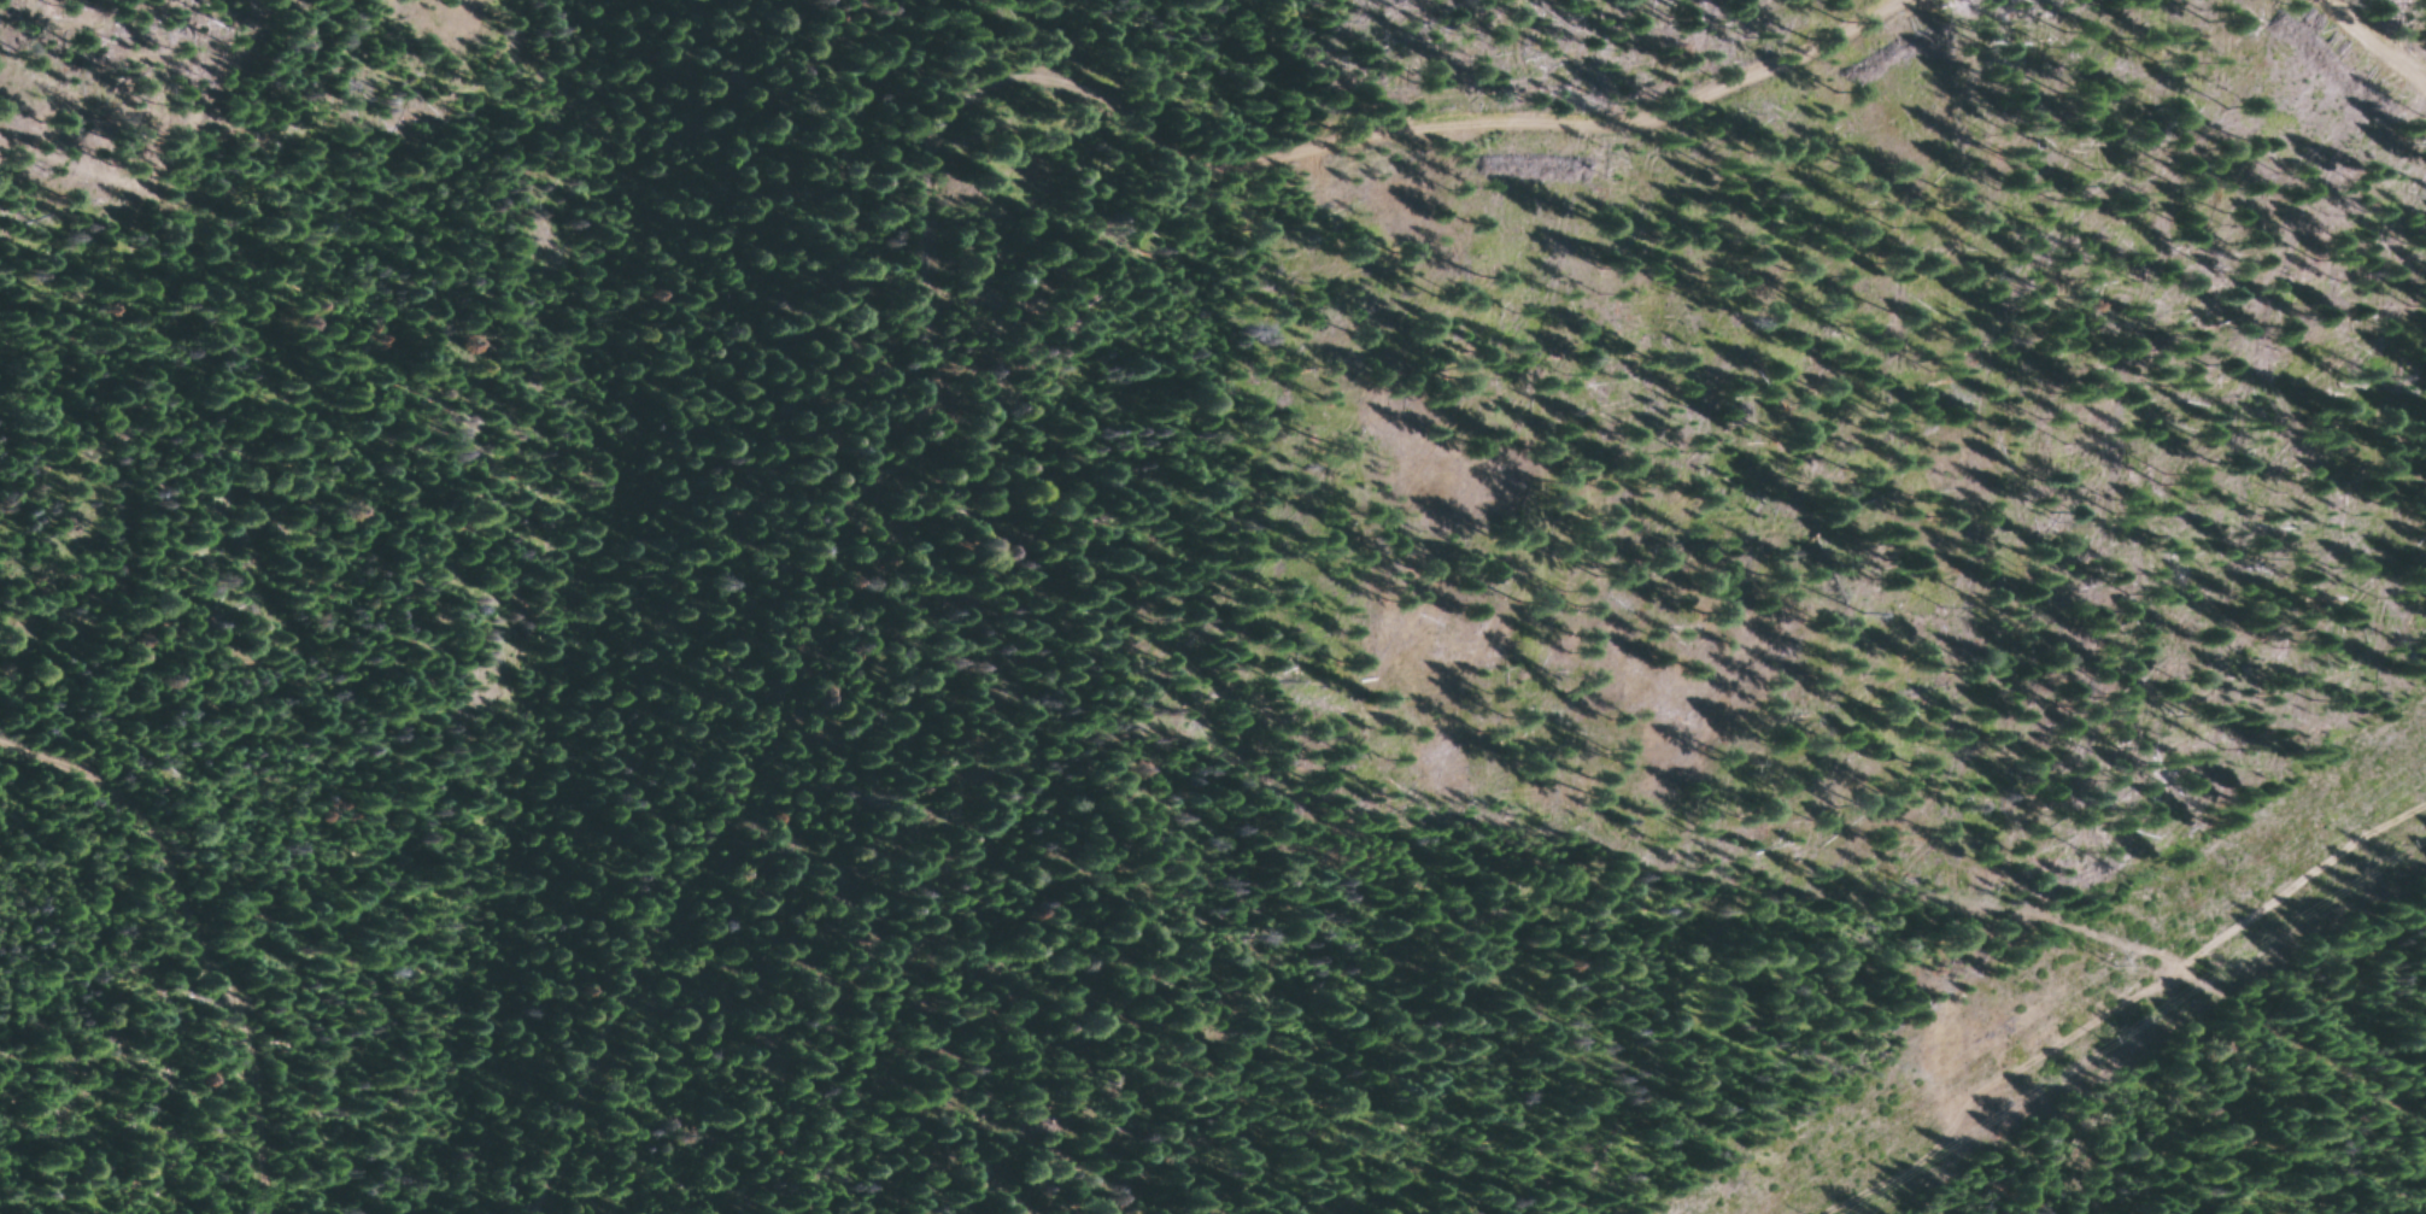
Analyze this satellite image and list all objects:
road: (2202, 72)
road: (421, 89)
road: (959, 245)
road: (1546, 785)
power tower: (2120, 957)
road: (128, 969)

